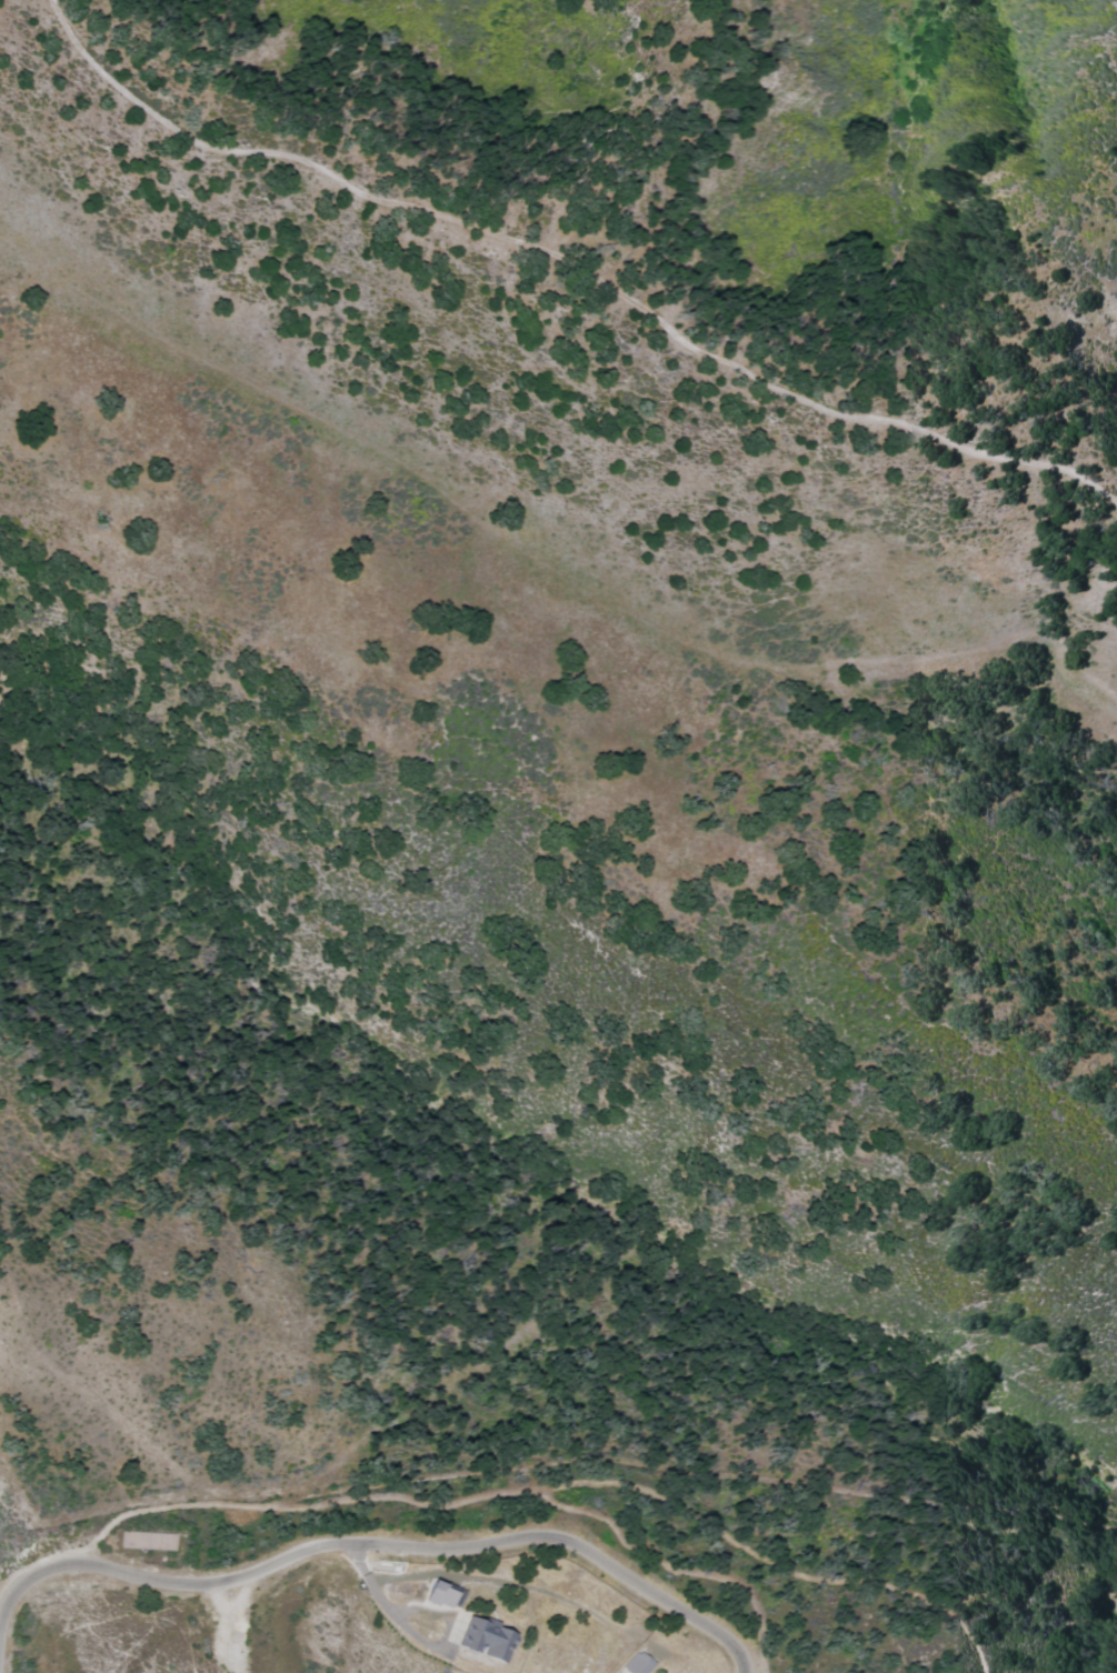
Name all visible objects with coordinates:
road: (574, 258)
road: (377, 1540)
building: (438, 1595)
building: (483, 1640)

